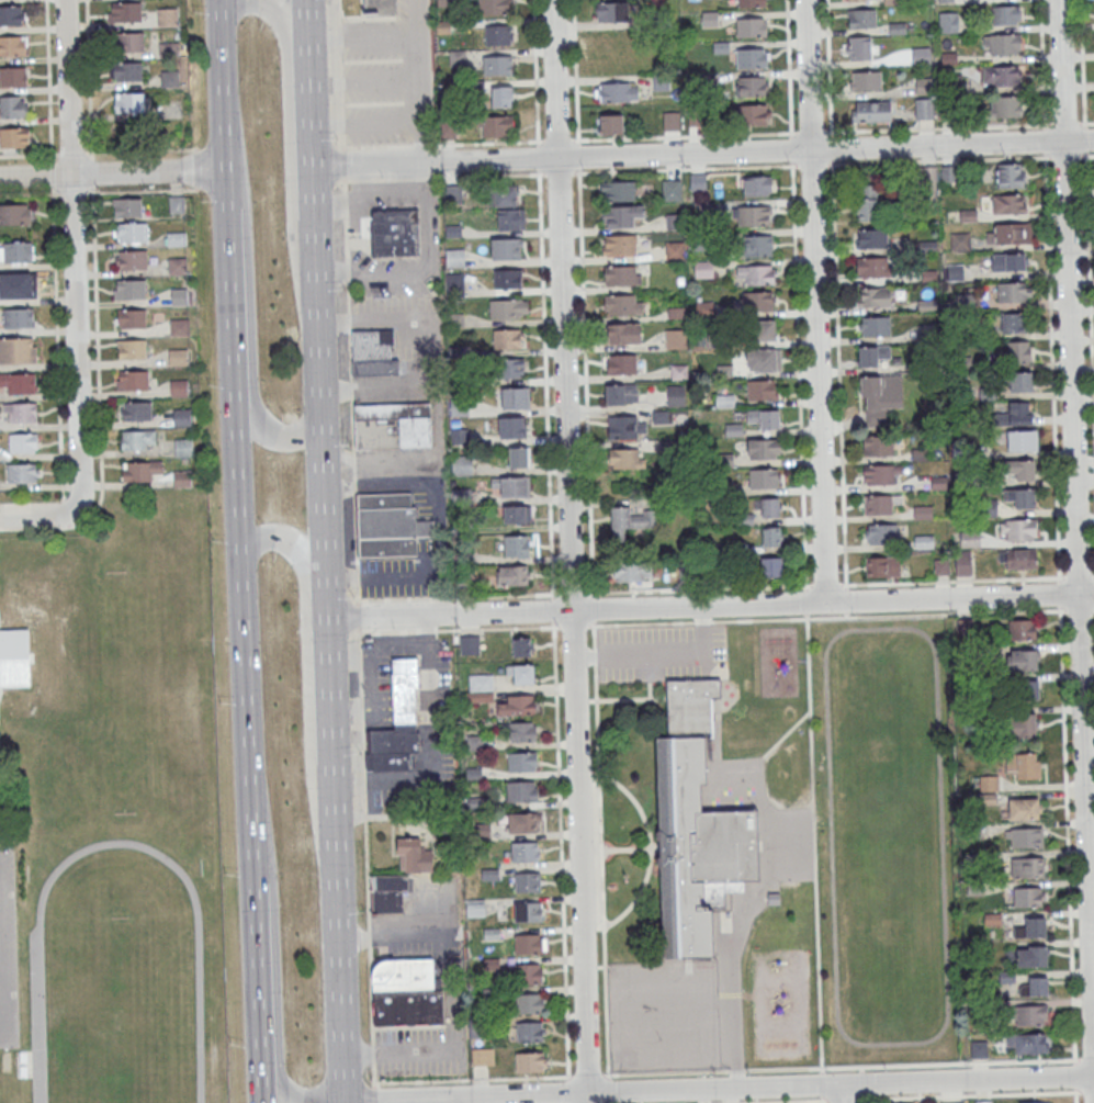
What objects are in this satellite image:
building: (946, 1)
building: (892, 2)
building: (444, 3)
building: (752, 3)
building: (495, 7)
building: (381, 8)
building: (612, 11)
building: (125, 12)
building: (12, 15)
building: (1006, 15)
building: (167, 16)
building: (661, 19)
building: (710, 19)
building: (865, 19)
building: (949, 23)
building: (443, 27)
building: (752, 29)
building: (899, 29)
building: (499, 36)
building: (610, 38)
road: (362, 40)
building: (129, 42)
building: (13, 45)
building: (1005, 45)
building: (722, 47)
building: (168, 48)
building: (860, 48)
building: (922, 56)
building: (458, 58)
building: (752, 58)
building: (950, 58)
building: (617, 61)
road: (1041, 63)
building: (498, 66)
building: (127, 70)
road: (339, 75)
building: (13, 76)
road: (47, 76)
building: (1002, 76)
building: (706, 81)
building: (868, 81)
road: (363, 82)
road: (418, 82)
building: (663, 82)
building: (952, 83)
building: (925, 86)
building: (477, 87)
building: (754, 87)
building: (616, 91)
building: (501, 97)
building: (132, 101)
road: (222, 102)
building: (13, 105)
building: (1006, 108)
building: (924, 110)
building: (872, 113)
building: (753, 115)
building: (670, 120)
road: (1085, 122)
building: (610, 123)
road: (363, 124)
road: (1064, 124)
building: (496, 125)
road: (90, 127)
building: (447, 128)
road: (287, 130)
road: (696, 135)
building: (14, 137)
road: (1044, 138)
road: (70, 150)
road: (25, 151)
road: (702, 154)
road: (1086, 155)
road: (1065, 156)
road: (342, 162)
road: (812, 165)
road: (196, 168)
road: (91, 171)
road: (50, 172)
road: (557, 172)
building: (948, 173)
building: (1010, 175)
road: (112, 176)
road: (444, 177)
road: (365, 180)
building: (698, 181)
building: (755, 184)
building: (672, 190)
road: (370, 192)
building: (620, 192)
road: (71, 193)
building: (455, 193)
road: (25, 194)
building: (505, 195)
building: (867, 202)
building: (1008, 203)
building: (178, 205)
road: (1086, 207)
building: (128, 209)
building: (15, 214)
road: (428, 214)
building: (622, 216)
building: (754, 216)
building: (511, 220)
road: (345, 224)
road: (227, 230)
building: (395, 232)
building: (135, 233)
building: (1011, 234)
building: (871, 238)
building: (177, 239)
building: (961, 241)
building: (621, 245)
building: (758, 246)
road: (74, 247)
building: (507, 249)
building: (15, 251)
building: (454, 257)
building: (133, 260)
building: (1007, 262)
building: (178, 267)
building: (875, 268)
road: (386, 271)
building: (956, 272)
road: (331, 275)
building: (757, 275)
building: (622, 277)
building: (508, 279)
building: (454, 281)
building: (19, 284)
building: (133, 290)
road: (836, 292)
building: (1012, 293)
road: (796, 295)
building: (180, 297)
building: (873, 299)
road: (814, 301)
building: (758, 302)
building: (966, 302)
building: (623, 305)
building: (926, 305)
road: (318, 309)
building: (508, 309)
building: (18, 317)
building: (133, 319)
building: (1013, 323)
building: (180, 327)
building: (873, 328)
building: (760, 330)
building: (928, 333)
building: (625, 335)
building: (675, 338)
building: (507, 340)
road: (56, 347)
building: (132, 348)
road: (97, 349)
building: (18, 350)
building: (1019, 351)
building: (371, 354)
building: (872, 356)
building: (179, 358)
building: (764, 360)
building: (932, 361)
building: (622, 364)
building: (508, 369)
road: (250, 380)
building: (134, 381)
building: (1020, 381)
building: (18, 383)
building: (180, 389)
building: (760, 390)
building: (883, 392)
building: (622, 394)
building: (676, 395)
building: (516, 398)
building: (138, 412)
building: (20, 413)
building: (1015, 414)
building: (182, 417)
building: (764, 419)
road: (440, 420)
building: (392, 426)
building: (623, 426)
building: (512, 428)
road: (352, 438)
building: (138, 439)
building: (1022, 440)
building: (22, 442)
building: (879, 447)
building: (184, 448)
building: (765, 450)
building: (963, 451)
building: (921, 454)
building: (519, 457)
building: (624, 458)
building: (1019, 469)
building: (22, 472)
building: (142, 472)
building: (879, 475)
building: (183, 479)
building: (765, 479)
building: (965, 481)
building: (940, 483)
building: (515, 487)
building: (1020, 497)
building: (878, 504)
building: (769, 508)
building: (991, 509)
road: (61, 513)
building: (924, 513)
road: (45, 515)
building: (518, 516)
building: (630, 520)
building: (390, 526)
building: (1018, 529)
building: (883, 534)
building: (771, 536)
road: (590, 538)
road: (551, 539)
building: (970, 539)
building: (924, 542)
building: (517, 545)
road: (1074, 545)
road: (568, 551)
building: (1017, 559)
building: (962, 563)
building: (770, 566)
building: (882, 566)
building: (631, 571)
building: (512, 576)
road: (1079, 578)
road: (954, 582)
road: (825, 586)
road: (583, 593)
road: (805, 603)
road: (711, 606)
road: (1059, 606)
road: (1078, 609)
road: (1093, 609)
road: (702, 614)
road: (358, 616)
road: (711, 620)
building: (1022, 629)
road: (702, 637)
building: (471, 645)
building: (522, 648)
parking lot: (661, 652)
road: (648, 653)
road: (584, 656)
building: (14, 660)
building: (1022, 660)
road: (307, 672)
building: (521, 675)
road: (648, 675)
road: (244, 680)
building: (482, 683)
building: (1024, 689)
road: (331, 691)
building: (478, 697)
road: (630, 697)
building: (518, 706)
building: (397, 722)
building: (1023, 725)
building: (523, 732)
road: (780, 738)
building: (475, 743)
road: (432, 747)
road: (762, 755)
building: (522, 763)
building: (1023, 765)
building: (474, 773)
building: (988, 783)
building: (522, 791)
building: (475, 802)
building: (1024, 808)
building: (525, 824)
building: (697, 828)
building: (484, 832)
track: (886, 835)
building: (1025, 837)
road: (7, 842)
road: (814, 842)
road: (655, 846)
road: (625, 847)
road: (651, 847)
building: (526, 852)
building: (413, 854)
road: (365, 858)
building: (1027, 866)
building: (490, 875)
building: (529, 883)
building: (387, 892)
building: (1027, 897)
building: (772, 898)
building: (476, 908)
building: (529, 912)
building: (1031, 927)
road: (338, 932)
building: (492, 934)
building: (529, 945)
parking lot: (8, 952)
building: (1031, 956)
building: (493, 964)
road: (274, 970)
building: (529, 975)
track: (117, 980)
track: (121, 983)
building: (1036, 986)
building: (405, 991)
building: (493, 993)
building: (531, 1004)
park: (121, 1010)
building: (1030, 1014)
road: (734, 1017)
building: (478, 1027)
building: (530, 1033)
building: (1027, 1043)
building: (979, 1048)
road: (413, 1050)
building: (481, 1058)
road: (1085, 1058)
building: (531, 1063)
road: (841, 1067)
road: (586, 1074)
road: (1074, 1074)
road: (472, 1078)
road: (861, 1082)
road: (822, 1083)
road: (719, 1089)
road: (608, 1090)
road: (568, 1091)
road: (1087, 1091)
road: (373, 1094)
road: (839, 1094)
road: (954, 1095)
road: (1075, 1095)
road: (822, 1099)
road: (771, 1101)
road: (862, 1101)
building: (983, 1101)
building: (952, 1102)
building: (1034, 1102)

